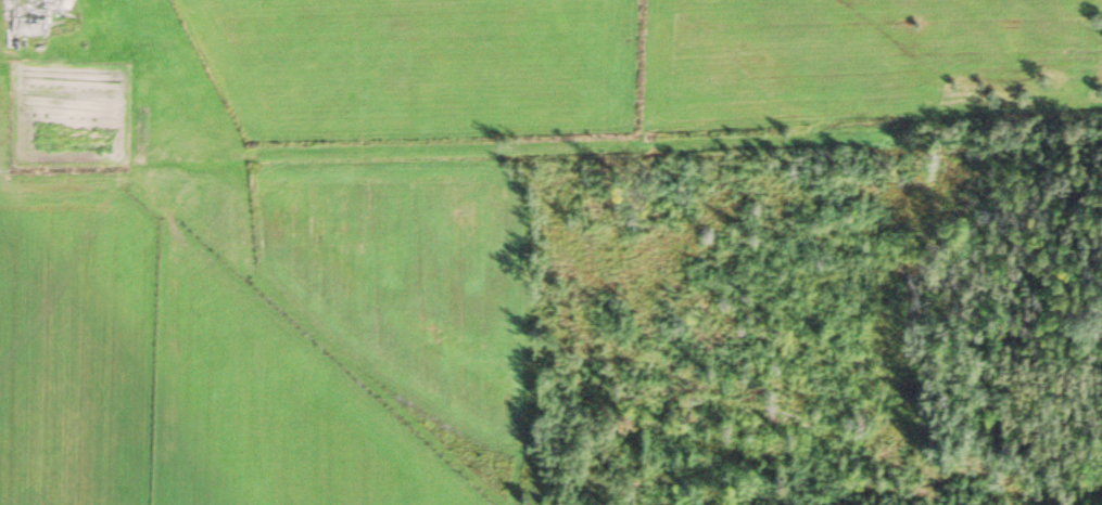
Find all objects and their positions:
building: (38, 15)

